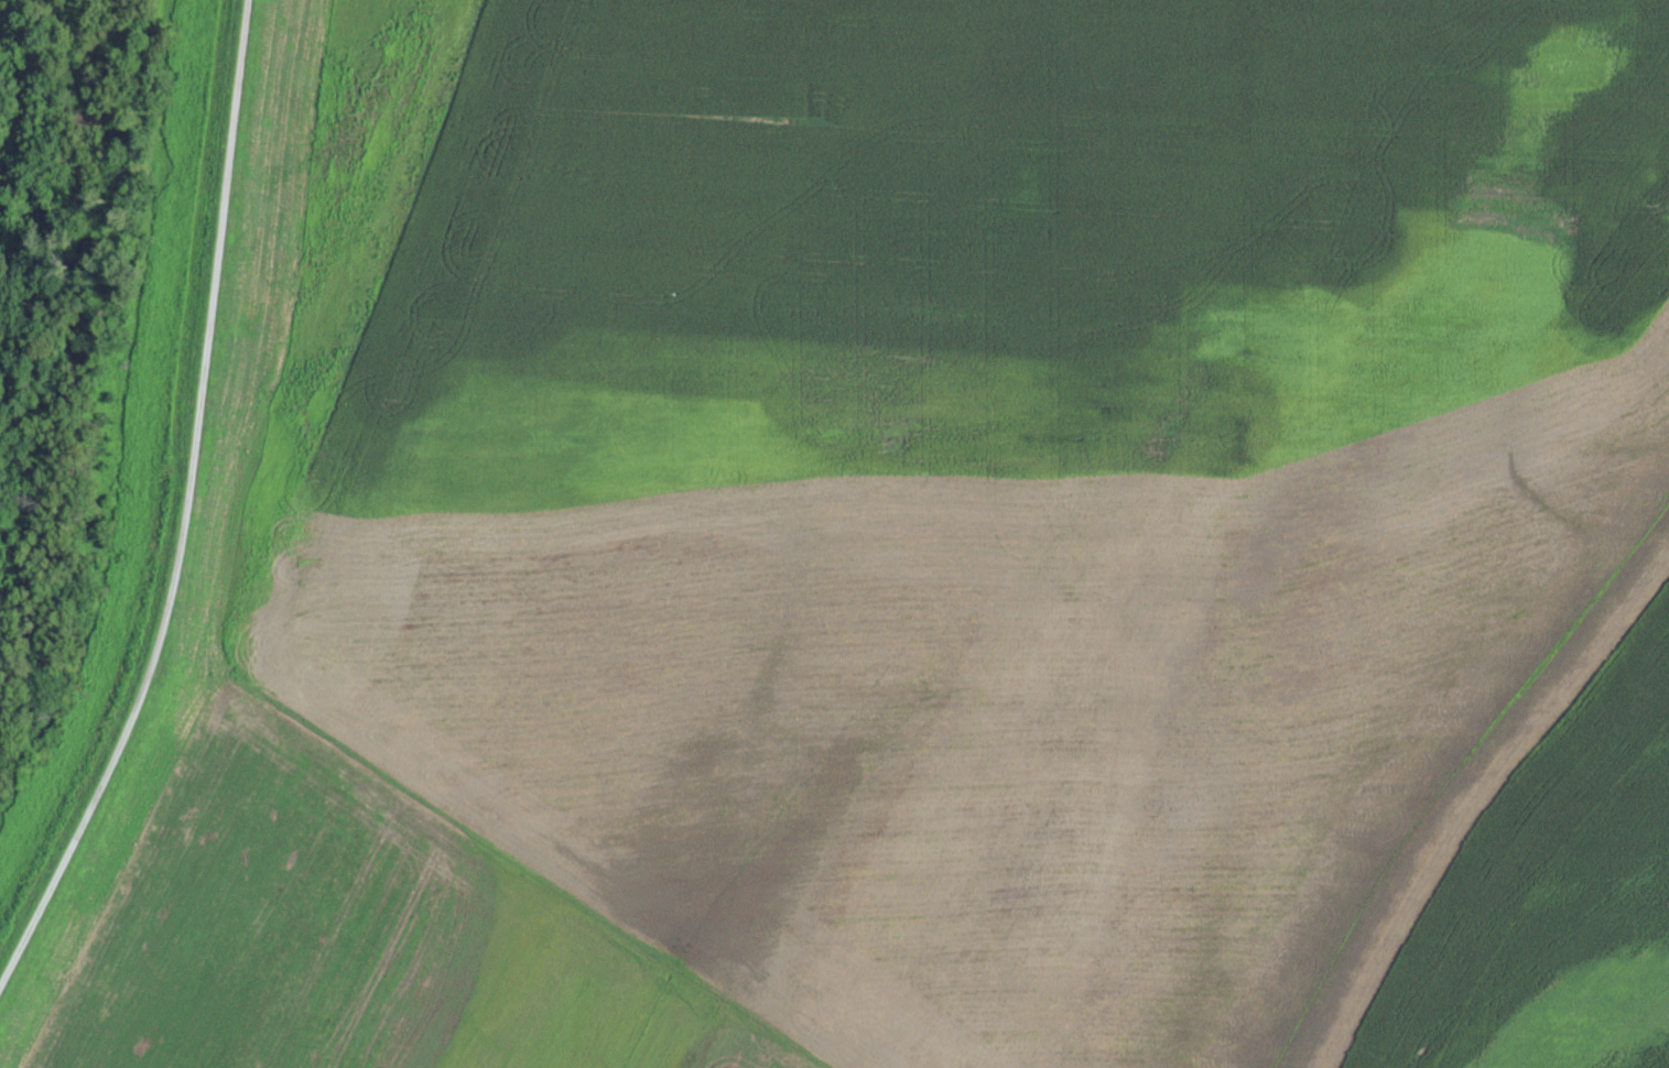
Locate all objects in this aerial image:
road: (185, 510)

